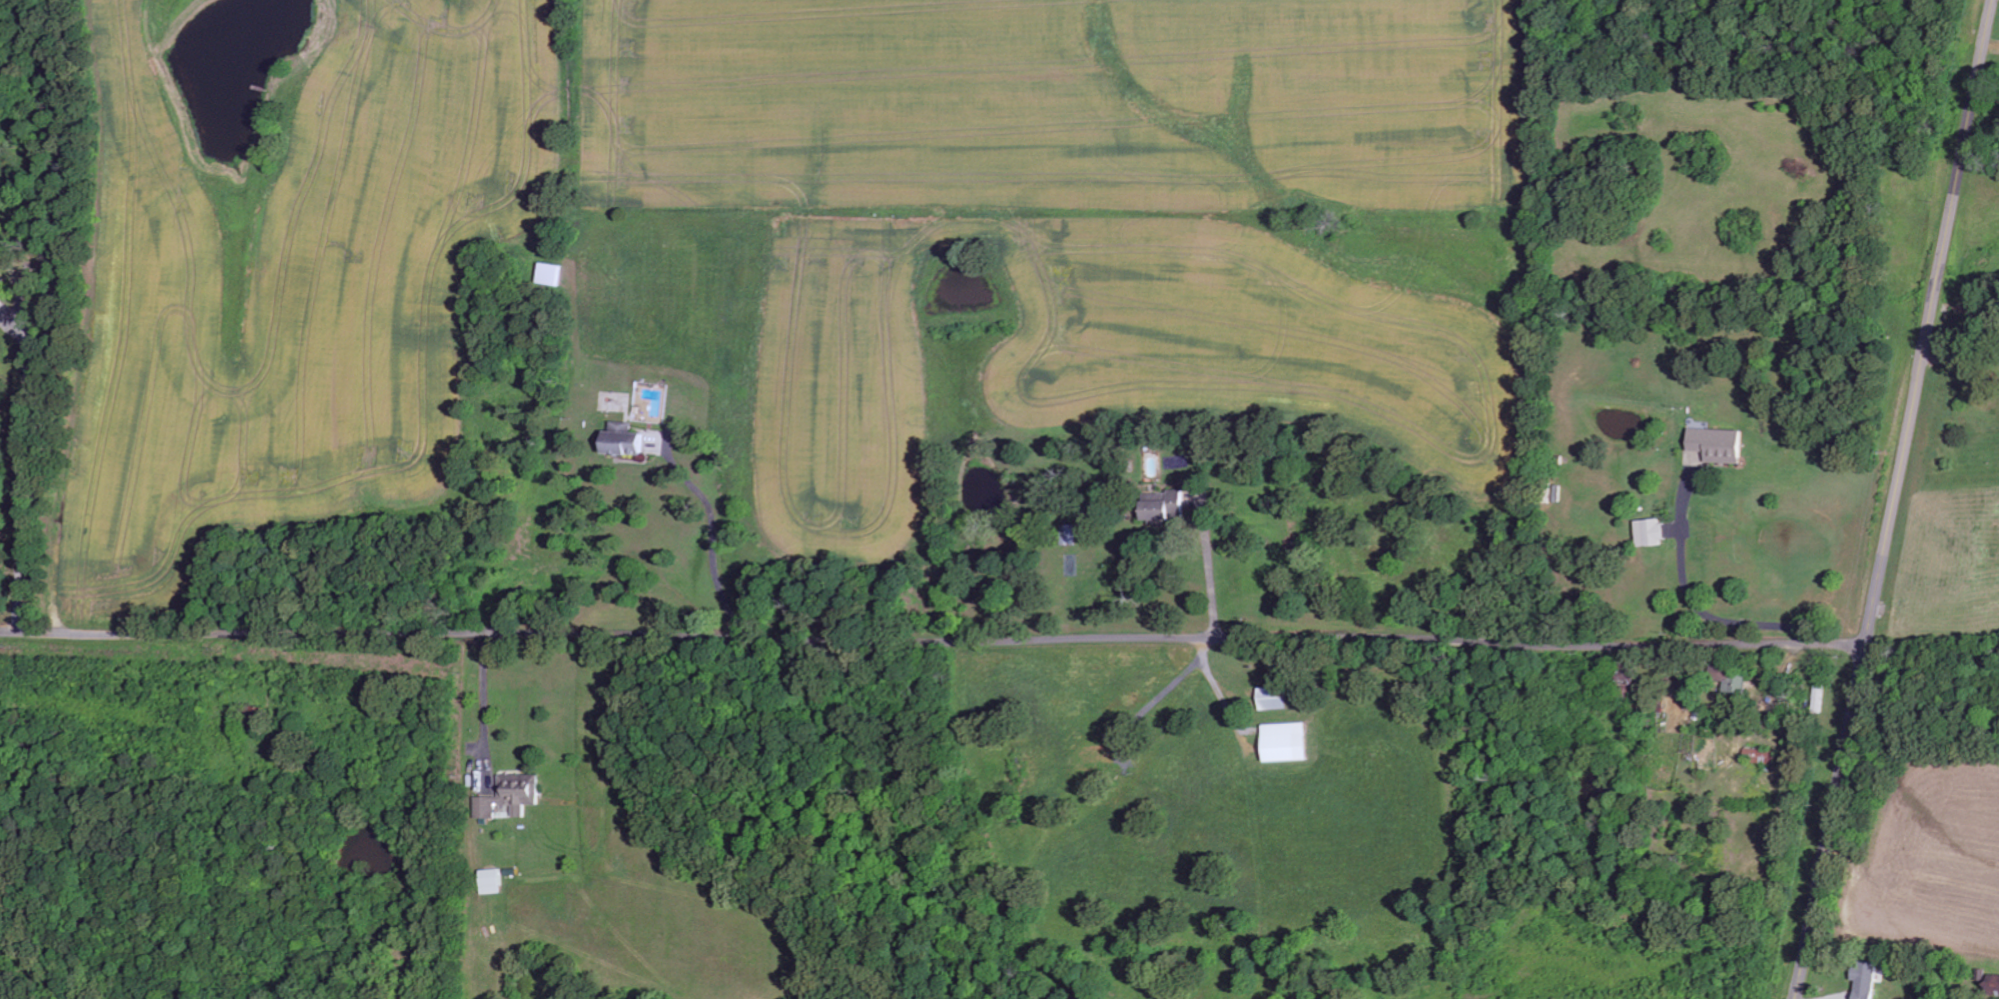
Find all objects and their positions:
building: (556, 273)
building: (1, 300)
building: (628, 439)
building: (1721, 444)
road: (1896, 499)
building: (1170, 506)
building: (1655, 532)
road: (933, 638)
building: (1737, 683)
building: (1278, 697)
building: (1291, 742)
building: (1764, 755)
building: (512, 795)
building: (493, 880)
building: (1868, 980)
building: (1996, 983)

